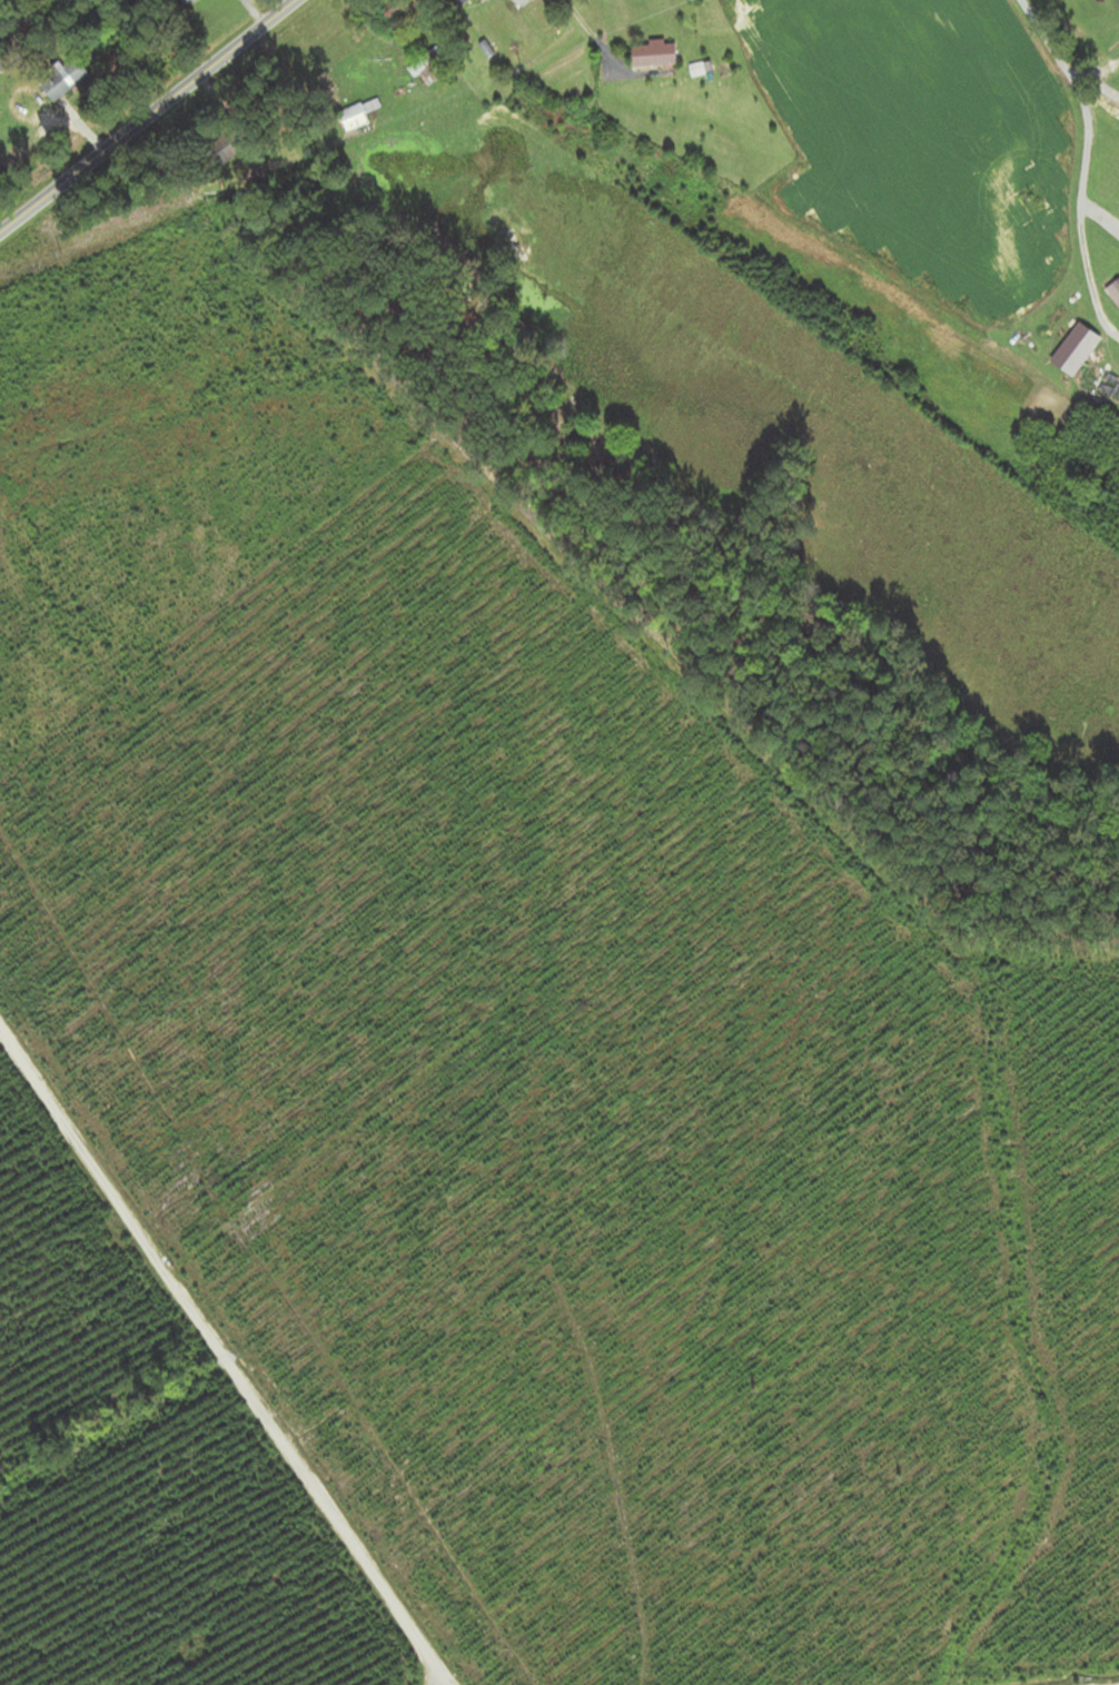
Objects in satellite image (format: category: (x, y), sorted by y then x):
building: (459, 1)
building: (394, 11)
road: (591, 36)
building: (652, 53)
building: (63, 79)
road: (1095, 86)
building: (356, 115)
road: (146, 117)
road: (1083, 157)
building: (1046, 225)
building: (1113, 291)
road: (219, 1374)
road: (924, 1661)

